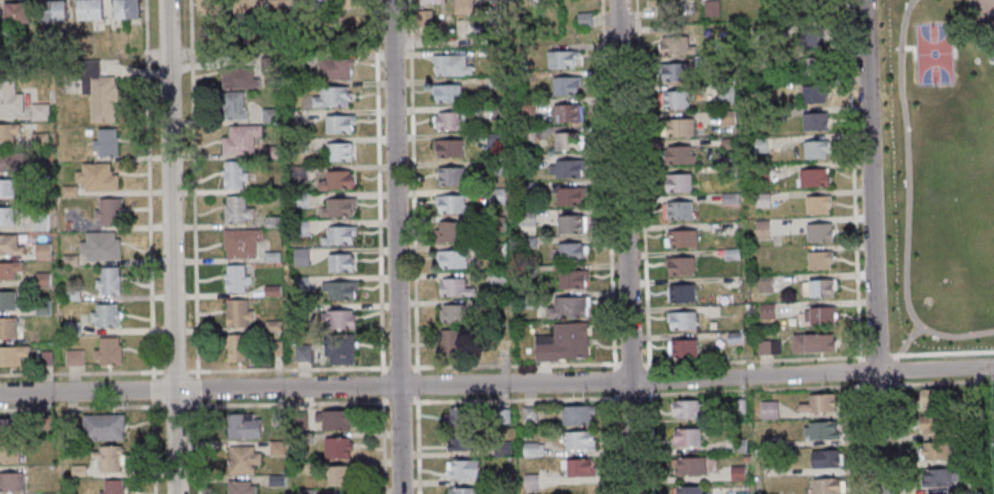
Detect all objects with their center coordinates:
building: (430, 1)
building: (352, 3)
building: (315, 4)
building: (280, 5)
building: (208, 6)
building: (245, 6)
building: (462, 6)
building: (686, 6)
building: (710, 8)
building: (87, 9)
building: (124, 9)
building: (51, 10)
building: (15, 12)
building: (421, 19)
building: (582, 19)
building: (476, 30)
building: (779, 32)
building: (810, 38)
building: (674, 46)
building: (494, 52)
park: (934, 52)
building: (559, 59)
building: (295, 61)
building: (700, 61)
building: (755, 61)
building: (267, 64)
building: (450, 65)
building: (812, 66)
building: (331, 69)
building: (672, 72)
building: (236, 78)
building: (494, 82)
building: (565, 86)
building: (97, 92)
building: (445, 93)
building: (724, 93)
building: (812, 94)
building: (9, 96)
building: (330, 96)
building: (674, 99)
building: (231, 105)
building: (523, 106)
building: (37, 112)
building: (494, 112)
building: (564, 113)
building: (268, 115)
building: (726, 118)
building: (448, 120)
building: (814, 121)
building: (337, 123)
building: (677, 127)
building: (8, 131)
building: (86, 132)
building: (525, 134)
building: (238, 139)
building: (38, 140)
building: (565, 141)
building: (104, 142)
building: (493, 142)
building: (726, 143)
building: (296, 145)
building: (758, 145)
building: (446, 148)
building: (814, 149)
building: (338, 151)
building: (268, 153)
building: (678, 155)
building: (14, 161)
building: (524, 163)
building: (494, 167)
building: (565, 168)
building: (728, 171)
park: (944, 171)
building: (297, 173)
building: (232, 174)
building: (759, 174)
building: (449, 176)
building: (96, 177)
building: (811, 178)
building: (334, 180)
building: (677, 182)
building: (7, 187)
building: (525, 187)
building: (67, 191)
building: (495, 196)
building: (569, 196)
building: (727, 198)
building: (298, 200)
building: (760, 201)
building: (450, 204)
building: (815, 204)
building: (336, 207)
building: (235, 210)
building: (677, 210)
building: (106, 211)
building: (5, 215)
building: (523, 218)
building: (38, 221)
building: (270, 222)
building: (568, 224)
building: (299, 228)
building: (763, 229)
building: (443, 232)
building: (817, 232)
building: (337, 235)
building: (680, 238)
building: (239, 242)
building: (526, 242)
building: (9, 245)
building: (99, 246)
road: (171, 246)
road: (396, 246)
road: (872, 246)
road: (625, 247)
building: (41, 250)
building: (497, 251)
building: (570, 251)
building: (730, 254)
building: (270, 256)
building: (299, 256)
building: (449, 258)
building: (68, 260)
building: (817, 260)
building: (338, 262)
building: (678, 265)
building: (525, 269)
building: (8, 270)
building: (496, 277)
building: (234, 278)
building: (571, 279)
building: (41, 280)
building: (107, 281)
building: (299, 284)
building: (762, 284)
building: (453, 288)
building: (817, 288)
building: (338, 289)
building: (271, 291)
building: (680, 293)
building: (70, 295)
building: (8, 300)
building: (526, 300)
building: (487, 305)
building: (41, 307)
building: (567, 307)
building: (300, 309)
building: (765, 311)
building: (236, 314)
building: (450, 314)
building: (103, 315)
building: (817, 316)
building: (337, 319)
building: (679, 320)
building: (271, 326)
building: (7, 327)
building: (70, 328)
building: (732, 337)
building: (562, 342)
building: (449, 343)
building: (811, 343)
building: (234, 347)
building: (767, 347)
building: (337, 348)
building: (682, 348)
building: (275, 349)
building: (106, 351)
building: (301, 353)
building: (11, 355)
building: (41, 357)
building: (73, 358)
road: (497, 384)
building: (976, 394)
building: (934, 398)
building: (817, 403)
building: (685, 409)
building: (767, 410)
building: (527, 414)
building: (500, 415)
building: (575, 415)
building: (459, 418)
building: (275, 419)
building: (69, 420)
building: (300, 420)
building: (332, 420)
building: (45, 421)
building: (931, 424)
building: (9, 426)
building: (101, 427)
building: (241, 427)
building: (819, 431)
building: (525, 434)
building: (303, 438)
building: (684, 438)
building: (577, 440)
building: (463, 441)
building: (767, 443)
building: (737, 445)
building: (275, 448)
building: (335, 448)
building: (500, 449)
building: (531, 450)
road: (150, 451)
building: (934, 451)
building: (8, 455)
building: (106, 458)
building: (745, 459)
building: (823, 459)
building: (973, 459)
building: (241, 460)
building: (688, 466)
building: (303, 467)
building: (576, 468)
building: (464, 470)
building: (77, 471)
building: (736, 474)
building: (339, 476)
building: (936, 477)
building: (500, 480)
building: (274, 481)
building: (10, 482)
building: (974, 483)
building: (529, 484)
building: (825, 486)
building: (111, 487)
building: (239, 488)
building: (687, 490)
building: (304, 491)
building: (461, 491)

